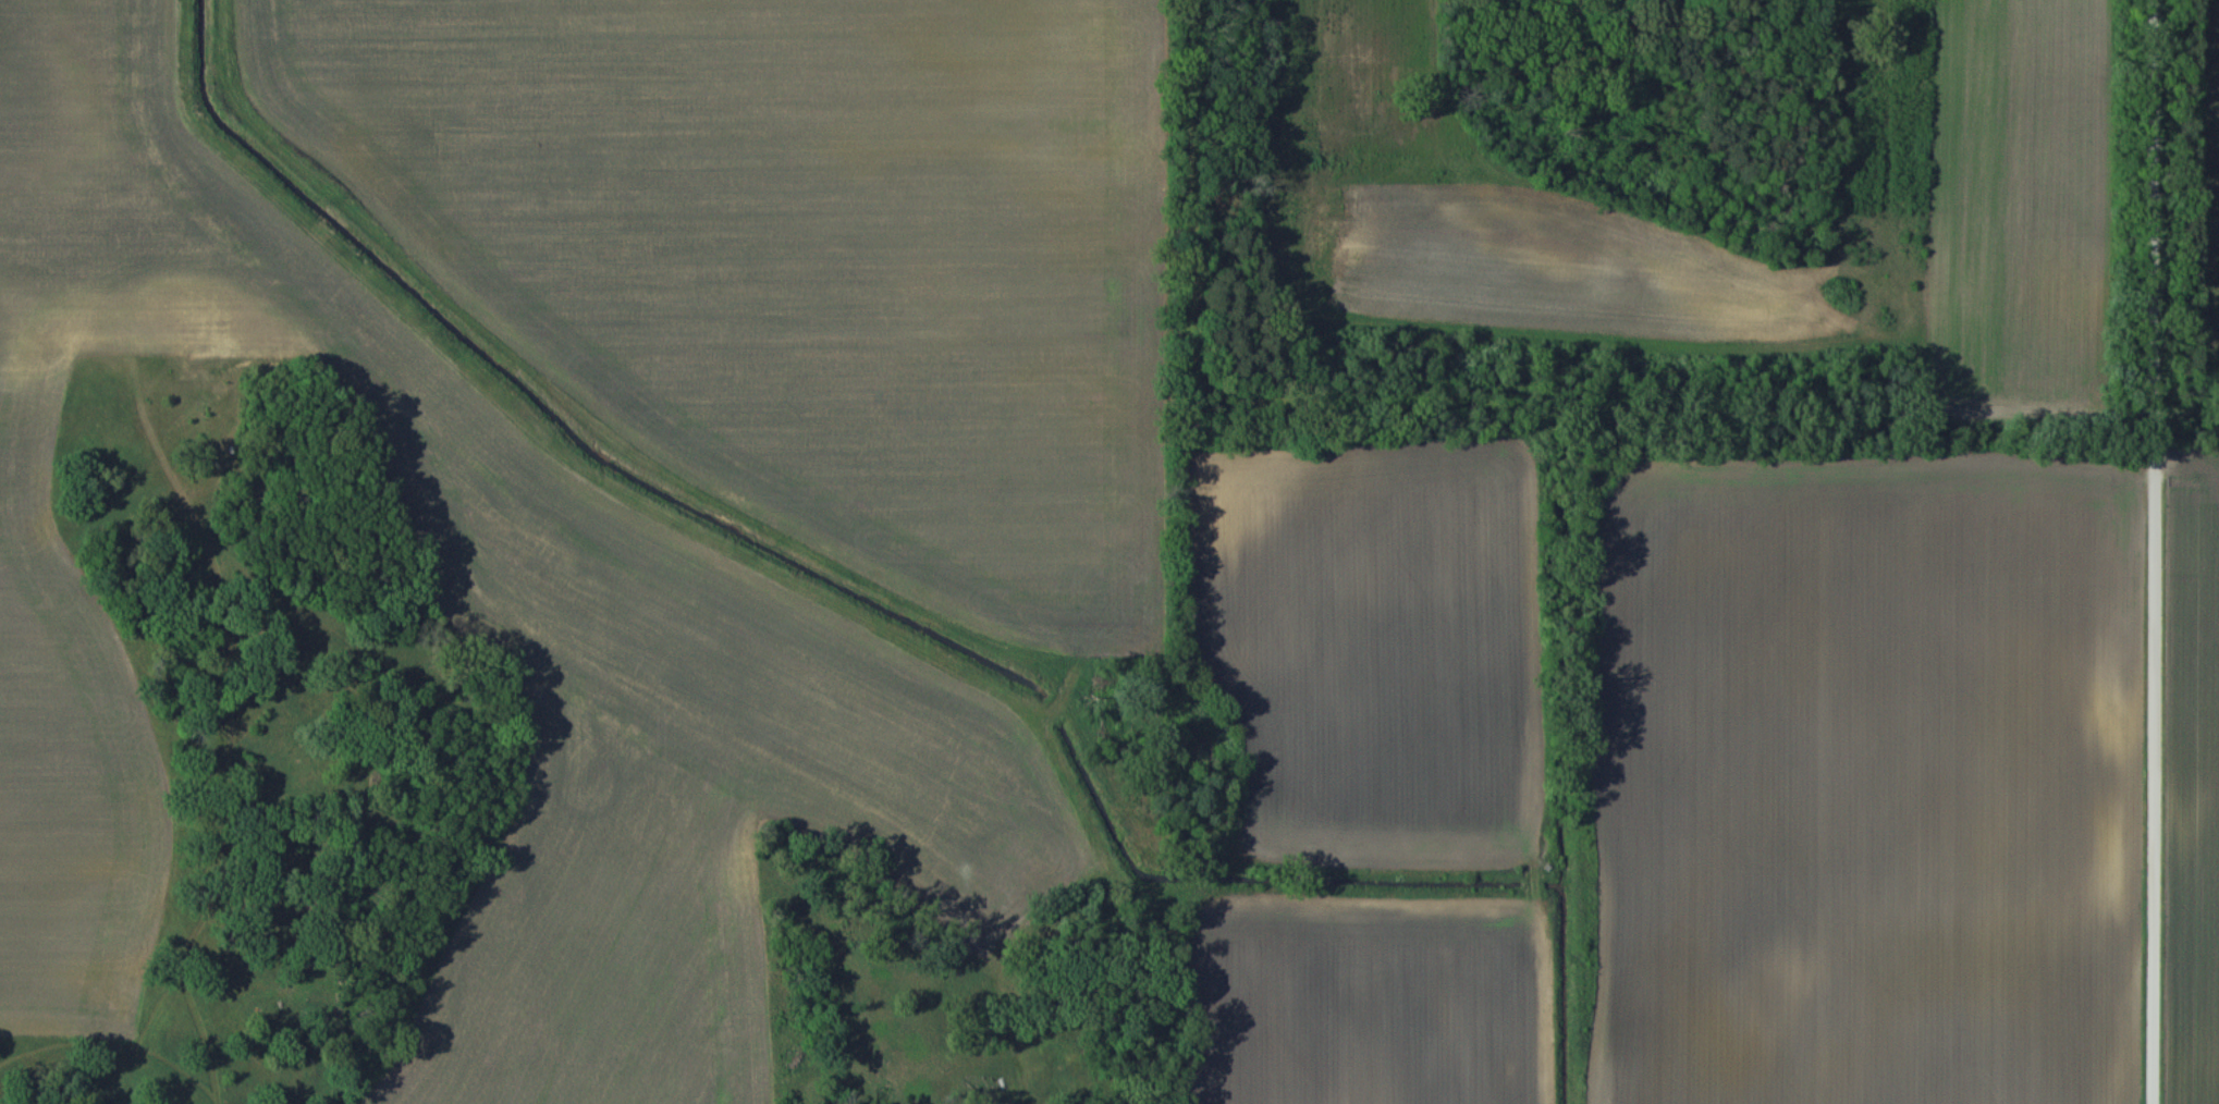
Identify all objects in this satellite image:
road: (2160, 551)

